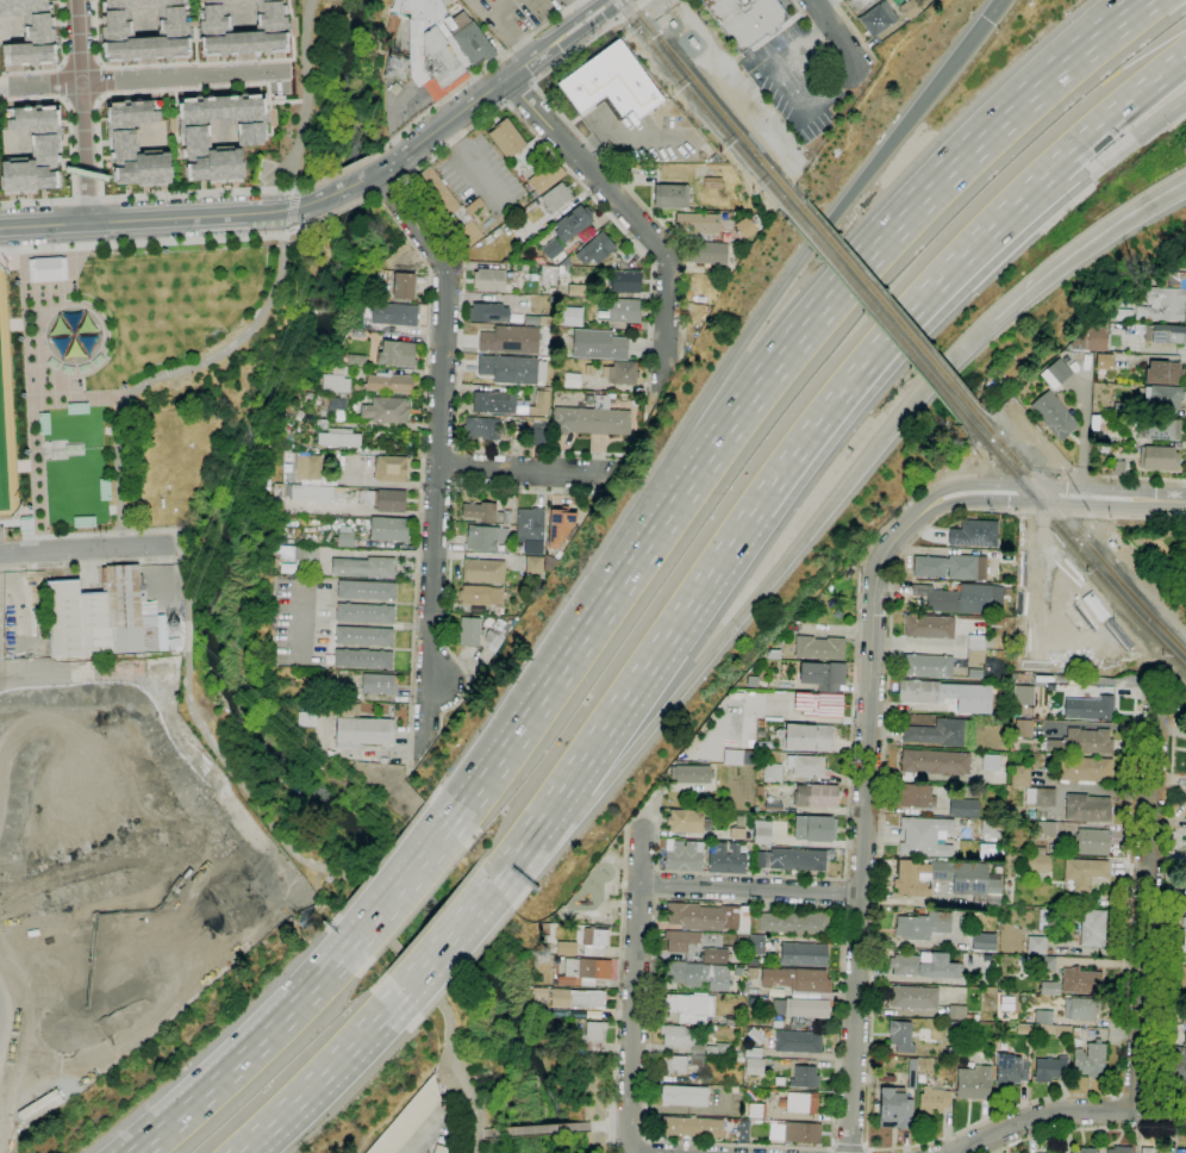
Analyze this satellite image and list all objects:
road: (643, 2)
building: (860, 5)
building: (429, 10)
building: (909, 10)
road: (994, 10)
building: (747, 19)
building: (878, 19)
traffic signals: (988, 20)
building: (241, 26)
road: (510, 27)
building: (143, 29)
road: (834, 31)
road: (814, 32)
building: (30, 33)
road: (855, 33)
building: (469, 39)
road: (801, 48)
building: (439, 58)
road: (60, 62)
power tower: (398, 71)
road: (474, 75)
road: (143, 79)
building: (611, 83)
road: (491, 88)
road: (518, 92)
road: (788, 92)
road: (830, 93)
road: (306, 94)
railway: (713, 101)
railway: (703, 105)
road: (82, 110)
road: (1092, 132)
building: (219, 133)
building: (506, 138)
road: (1130, 139)
building: (133, 143)
building: (32, 149)
parking lot: (470, 161)
road: (608, 167)
road: (279, 172)
road: (338, 172)
building: (545, 177)
building: (713, 182)
road: (580, 183)
road: (299, 188)
road: (391, 189)
road: (337, 191)
road: (146, 197)
building: (670, 197)
building: (556, 198)
road: (1040, 199)
road: (291, 207)
road: (298, 207)
building: (448, 207)
road: (626, 208)
road: (337, 211)
road: (145, 218)
building: (574, 222)
building: (699, 222)
road: (901, 224)
building: (743, 226)
road: (288, 229)
road: (296, 229)
road: (287, 233)
road: (146, 242)
road: (813, 244)
building: (549, 245)
road: (1084, 247)
building: (595, 249)
road: (5, 250)
building: (711, 254)
road: (382, 260)
building: (549, 260)
building: (564, 262)
building: (622, 266)
building: (46, 268)
building: (548, 275)
building: (493, 280)
street lamp: (15, 282)
building: (626, 282)
street lamp: (73, 286)
building: (404, 286)
building: (579, 291)
building: (1162, 298)
railway: (885, 306)
building: (624, 311)
building: (488, 313)
building: (394, 314)
railway: (878, 314)
building: (570, 316)
building: (1115, 316)
building: (537, 320)
building: (358, 335)
building: (1168, 335)
street lamp: (19, 338)
building: (1097, 338)
building: (512, 339)
building: (599, 345)
building: (397, 354)
road: (874, 355)
park: (95, 361)
building: (1104, 362)
building: (512, 369)
building: (589, 370)
building: (1059, 370)
building: (620, 373)
building: (1163, 373)
building: (336, 380)
building: (570, 380)
street lamp: (79, 384)
building: (388, 384)
street lamp: (124, 385)
road: (458, 387)
road: (31, 392)
street lamp: (23, 393)
building: (1162, 397)
road: (76, 399)
building: (494, 403)
building: (541, 403)
building: (332, 406)
building: (1121, 409)
building: (386, 411)
building: (1053, 416)
building: (594, 418)
building: (291, 420)
building: (1094, 422)
building: (480, 429)
building: (1156, 429)
building: (538, 436)
building: (331, 438)
building: (1099, 438)
building: (1104, 449)
street lamp: (26, 450)
road: (439, 454)
building: (1157, 459)
road: (420, 467)
building: (308, 468)
road: (455, 468)
building: (1118, 468)
building: (391, 469)
road: (524, 469)
road: (1023, 476)
road: (1129, 479)
building: (310, 493)
road: (1049, 494)
building: (383, 500)
street lamp: (30, 506)
building: (481, 512)
road: (1054, 512)
road: (18, 513)
road: (1130, 517)
building: (506, 518)
building: (25, 524)
building: (530, 525)
building: (557, 525)
road: (663, 528)
building: (389, 529)
railway: (1078, 531)
building: (974, 534)
road: (80, 535)
building: (345, 536)
building: (481, 538)
road: (117, 541)
railway: (1073, 543)
road: (450, 544)
road: (81, 549)
building: (310, 554)
building: (548, 562)
road: (94, 563)
building: (533, 565)
building: (951, 567)
building: (363, 568)
building: (483, 571)
road: (776, 576)
building: (366, 590)
building: (480, 596)
building: (963, 599)
building: (364, 612)
building: (104, 616)
building: (930, 627)
building: (173, 631)
power tower: (173, 631)
building: (470, 631)
building: (364, 636)
building: (495, 637)
building: (174, 643)
building: (819, 648)
building: (975, 649)
road: (654, 654)
building: (774, 655)
building: (363, 659)
building: (928, 666)
road: (70, 672)
road: (186, 673)
building: (823, 675)
building: (380, 684)
building: (342, 687)
road: (1135, 692)
building: (1024, 694)
building: (947, 696)
road: (542, 699)
building: (818, 704)
building: (1097, 709)
building: (345, 710)
building: (1004, 712)
building: (306, 721)
building: (1023, 729)
building: (366, 731)
building: (937, 733)
building: (805, 737)
building: (1087, 742)
building: (738, 758)
building: (990, 762)
building: (932, 764)
building: (806, 766)
road: (850, 769)
building: (1084, 771)
building: (772, 773)
building: (691, 774)
building: (1020, 775)
building: (816, 796)
building: (916, 796)
building: (1044, 798)
building: (773, 806)
building: (963, 808)
building: (1087, 808)
road: (650, 810)
building: (685, 821)
road: (862, 825)
building: (814, 829)
building: (992, 829)
building: (1045, 829)
building: (762, 833)
building: (737, 834)
building: (924, 836)
building: (1093, 842)
road: (520, 843)
building: (1050, 848)
building: (683, 858)
building: (797, 859)
building: (726, 860)
building: (760, 860)
building: (1036, 862)
building: (1084, 875)
building: (1185, 877)
building: (948, 880)
road: (656, 883)
road: (405, 885)
road: (750, 889)
road: (844, 893)
road: (656, 897)
road: (913, 902)
road: (1147, 904)
building: (709, 917)
road: (1163, 917)
building: (794, 923)
building: (923, 925)
building: (1184, 927)
building: (1093, 928)
road: (447, 936)
building: (741, 940)
building: (680, 941)
building: (594, 942)
building: (984, 942)
building: (755, 945)
building: (1036, 946)
building: (567, 949)
building: (804, 954)
building: (716, 955)
power tower: (545, 959)
building: (1047, 964)
building: (925, 966)
building: (585, 972)
building: (753, 973)
building: (698, 974)
road: (618, 976)
building: (1182, 979)
building: (1081, 980)
building: (800, 981)
building: (1050, 989)
road: (635, 992)
building: (539, 993)
building: (915, 997)
building: (576, 999)
building: (691, 1006)
building: (1080, 1009)
building: (801, 1010)
building: (957, 1012)
building: (1043, 1017)
building: (1184, 1018)
road: (13, 1027)
building: (1026, 1029)
building: (1056, 1029)
building: (593, 1033)
building: (755, 1036)
building: (680, 1037)
building: (898, 1039)
building: (798, 1041)
road: (254, 1051)
building: (719, 1051)
building: (753, 1053)
building: (1091, 1059)
building: (1176, 1062)
building: (680, 1064)
building: (755, 1066)
building: (1049, 1068)
building: (1011, 1070)
road: (323, 1073)
building: (912, 1073)
building: (805, 1078)
building: (974, 1083)
building: (685, 1096)
building: (932, 1102)
building: (803, 1103)
building: (40, 1107)
road: (867, 1107)
building: (895, 1109)
building: (756, 1110)
road: (1159, 1114)
building: (408, 1120)
road: (1041, 1120)
road: (608, 1126)
building: (691, 1128)
road: (535, 1129)
road: (1088, 1129)
building: (744, 1130)
road: (424, 1133)
road: (479, 1133)
building: (795, 1133)
road: (645, 1145)
road: (414, 1147)
road: (849, 1148)
building: (441, 1149)
building: (1121, 1149)
building: (1084, 1151)
building: (1147, 1151)
building: (1180, 1151)

